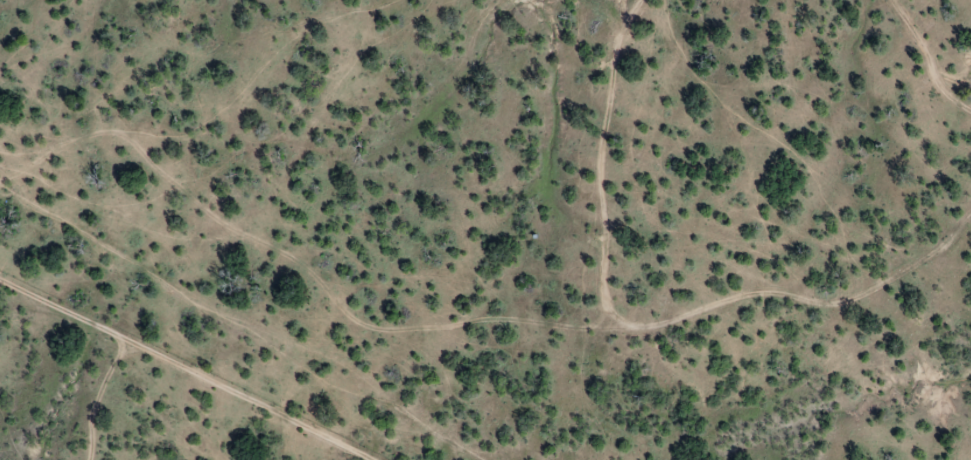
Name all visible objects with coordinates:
road: (189, 369)

